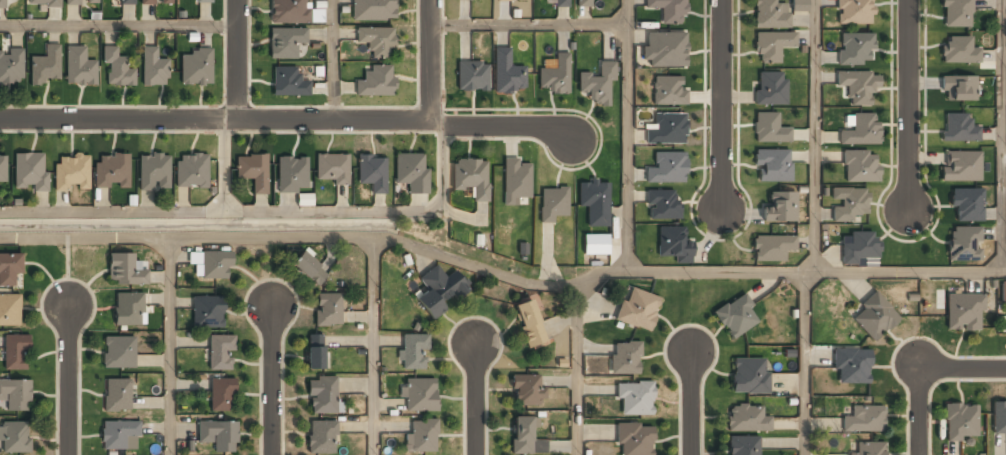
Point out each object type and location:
building: (509, 0)
building: (203, 1)
building: (81, 2)
building: (156, 2)
building: (128, 3)
building: (2, 4)
building: (43, 4)
building: (561, 4)
building: (584, 4)
building: (799, 6)
building: (373, 10)
building: (288, 11)
building: (669, 11)
building: (855, 12)
building: (956, 13)
building: (770, 15)
road: (530, 23)
road: (119, 24)
building: (376, 42)
building: (285, 43)
building: (772, 47)
building: (665, 49)
building: (856, 49)
building: (959, 50)
road: (238, 61)
road: (334, 62)
road: (432, 62)
building: (44, 66)
building: (11, 67)
building: (79, 68)
building: (154, 68)
building: (196, 68)
building: (116, 69)
building: (507, 73)
building: (472, 77)
building: (555, 77)
building: (376, 82)
building: (288, 83)
building: (598, 86)
building: (858, 87)
building: (959, 88)
building: (770, 89)
building: (677, 100)
road: (910, 104)
road: (723, 105)
road: (216, 123)
road: (507, 125)
building: (959, 129)
building: (666, 130)
building: (769, 130)
building: (862, 130)
road: (629, 135)
road: (815, 136)
road: (1003, 136)
building: (772, 166)
building: (962, 166)
building: (330, 167)
building: (860, 167)
building: (667, 168)
building: (3, 170)
building: (191, 171)
building: (112, 172)
building: (253, 172)
building: (30, 173)
building: (154, 173)
building: (372, 173)
building: (411, 173)
building: (70, 174)
building: (292, 175)
building: (472, 177)
building: (516, 180)
building: (595, 202)
building: (553, 203)
building: (849, 204)
building: (967, 204)
building: (662, 205)
building: (781, 207)
building: (674, 244)
building: (962, 244)
building: (773, 247)
building: (859, 248)
building: (215, 266)
building: (9, 269)
building: (125, 270)
building: (310, 270)
road: (504, 274)
building: (440, 291)
building: (1004, 293)
building: (638, 309)
building: (10, 310)
building: (128, 310)
building: (328, 311)
building: (207, 313)
building: (964, 313)
building: (736, 316)
building: (874, 317)
building: (530, 324)
road: (170, 346)
road: (371, 347)
building: (15, 352)
building: (221, 352)
building: (119, 353)
building: (315, 353)
building: (414, 353)
building: (625, 358)
road: (804, 363)
building: (852, 367)
road: (962, 371)
road: (574, 374)
building: (749, 377)
road: (68, 378)
road: (271, 379)
building: (526, 391)
building: (15, 395)
building: (221, 395)
building: (419, 395)
building: (117, 396)
building: (323, 396)
road: (473, 399)
building: (635, 399)
road: (690, 403)
road: (918, 413)
building: (999, 418)
building: (747, 420)
building: (864, 420)
building: (960, 422)
building: (118, 434)
building: (218, 435)
building: (421, 436)
building: (14, 438)
building: (321, 438)
building: (525, 438)
building: (635, 440)
building: (742, 446)
building: (868, 449)

